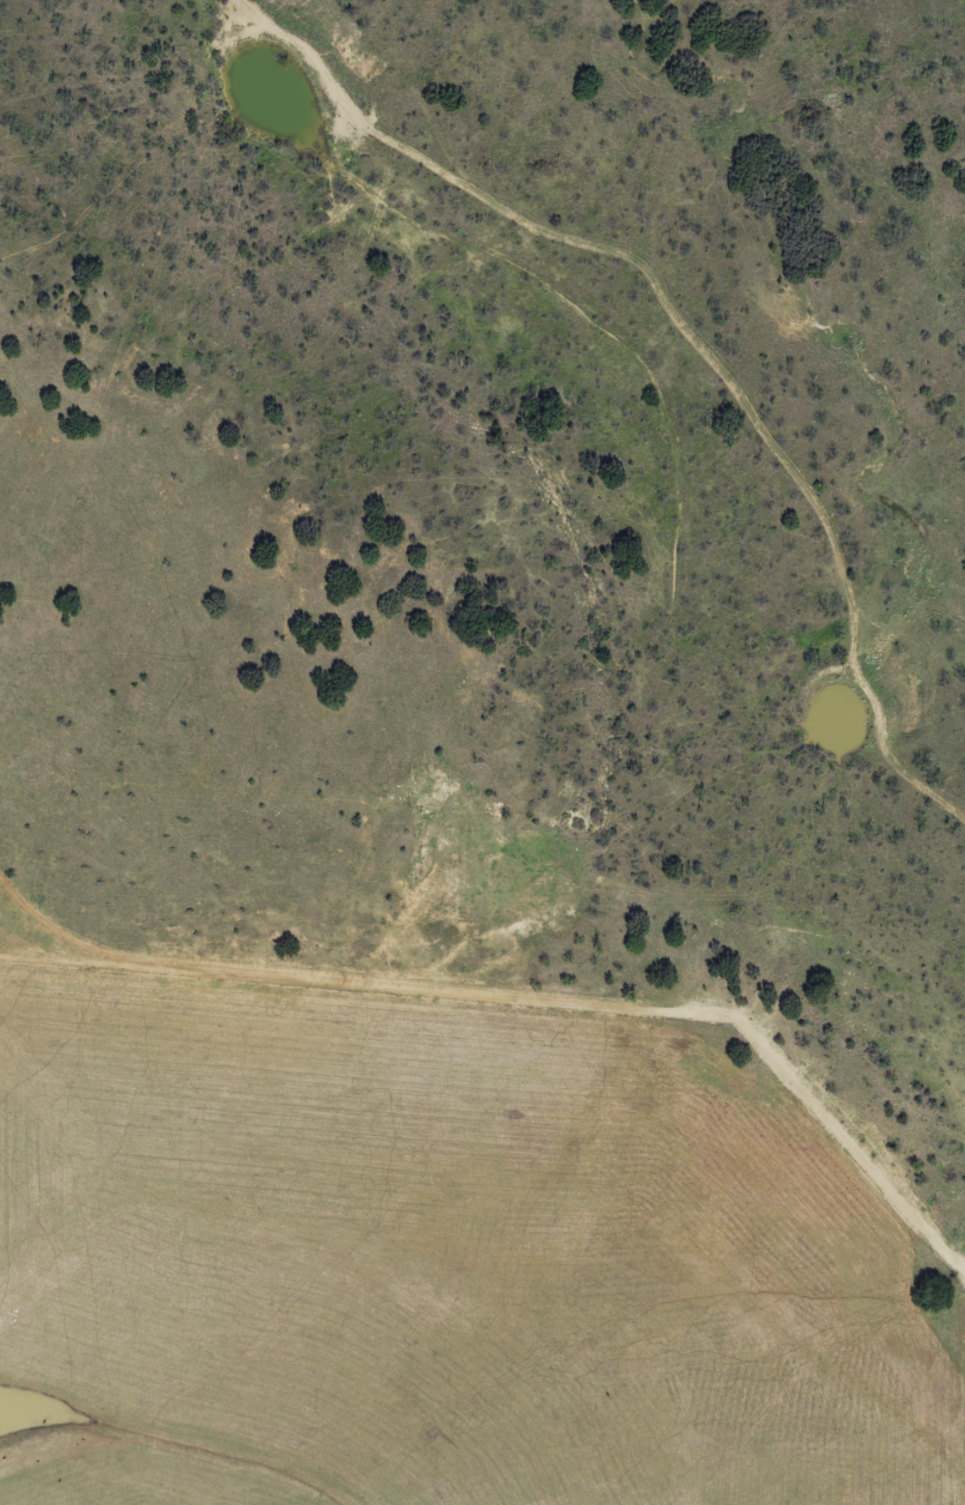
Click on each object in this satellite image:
road: (415, 331)

